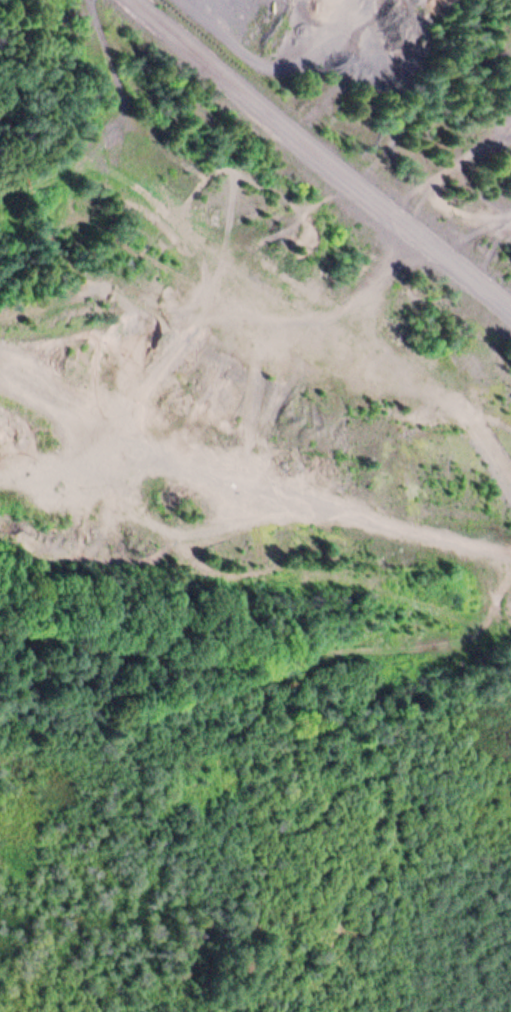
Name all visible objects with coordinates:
road: (107, 126)
road: (325, 155)

